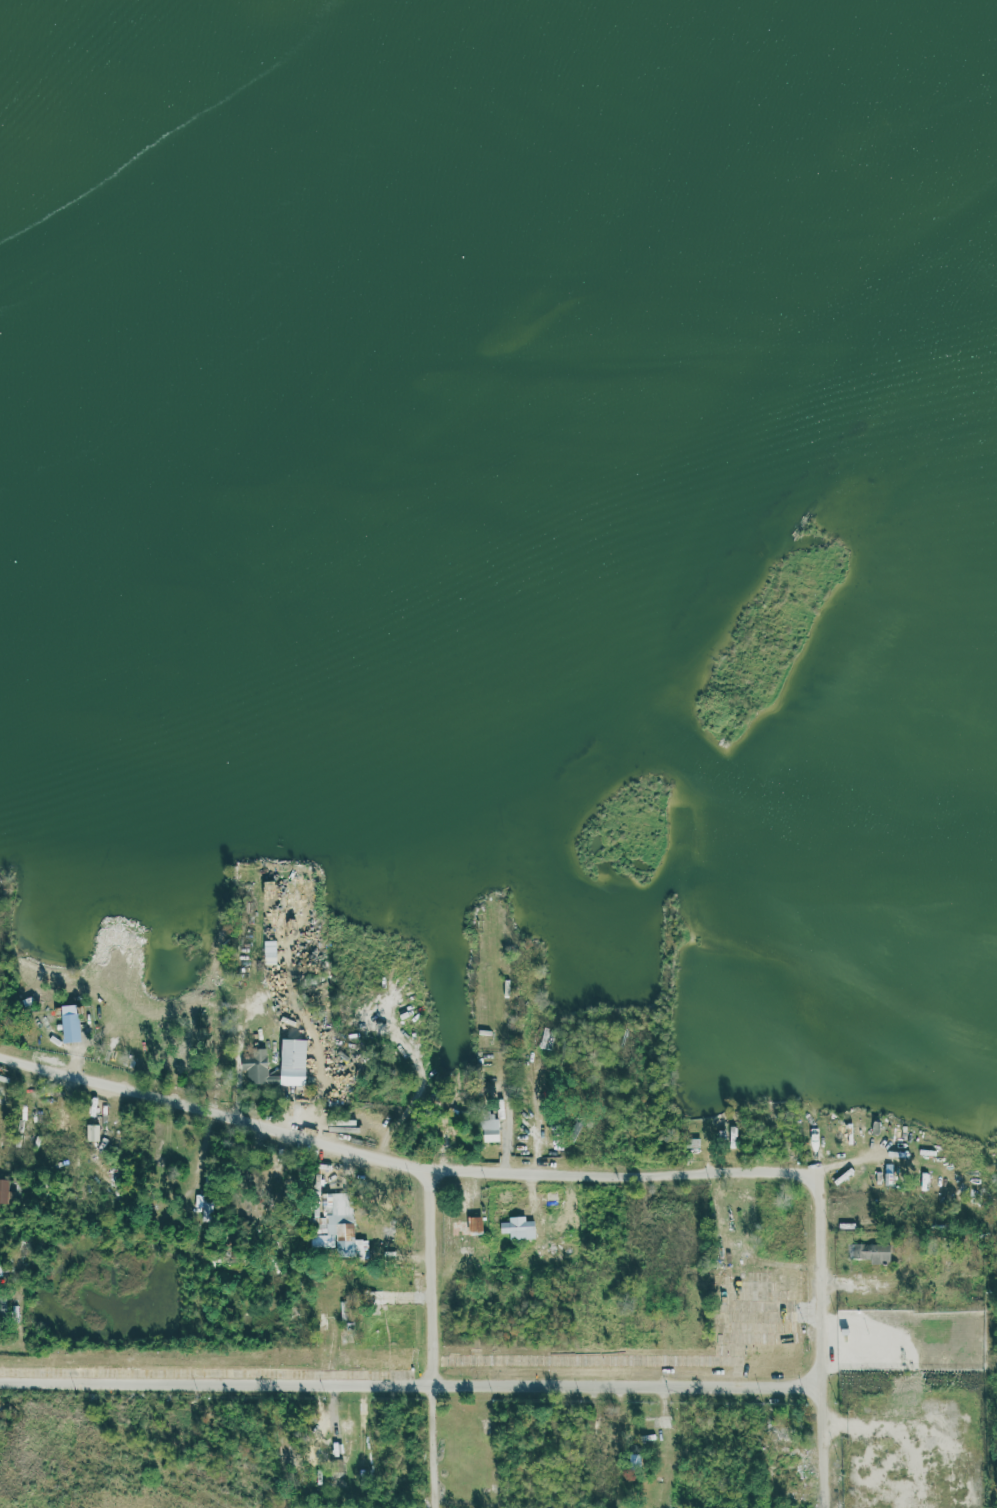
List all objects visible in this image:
building: (507, 1007)
building: (71, 1027)
building: (184, 1051)
building: (291, 1061)
building: (256, 1068)
building: (488, 1127)
building: (733, 1136)
building: (28, 1138)
building: (693, 1142)
road: (401, 1159)
building: (889, 1174)
building: (880, 1175)
building: (914, 1178)
building: (924, 1178)
building: (4, 1189)
building: (552, 1197)
building: (204, 1205)
building: (566, 1207)
building: (327, 1209)
building: (475, 1225)
building: (518, 1228)
building: (339, 1235)
building: (868, 1252)
building: (659, 1277)
building: (899, 1296)
building: (646, 1304)
road: (430, 1336)
road: (829, 1339)
road: (416, 1382)
building: (653, 1425)
building: (781, 1439)
building: (606, 1449)
building: (851, 1474)
quarry: (129, 1491)

